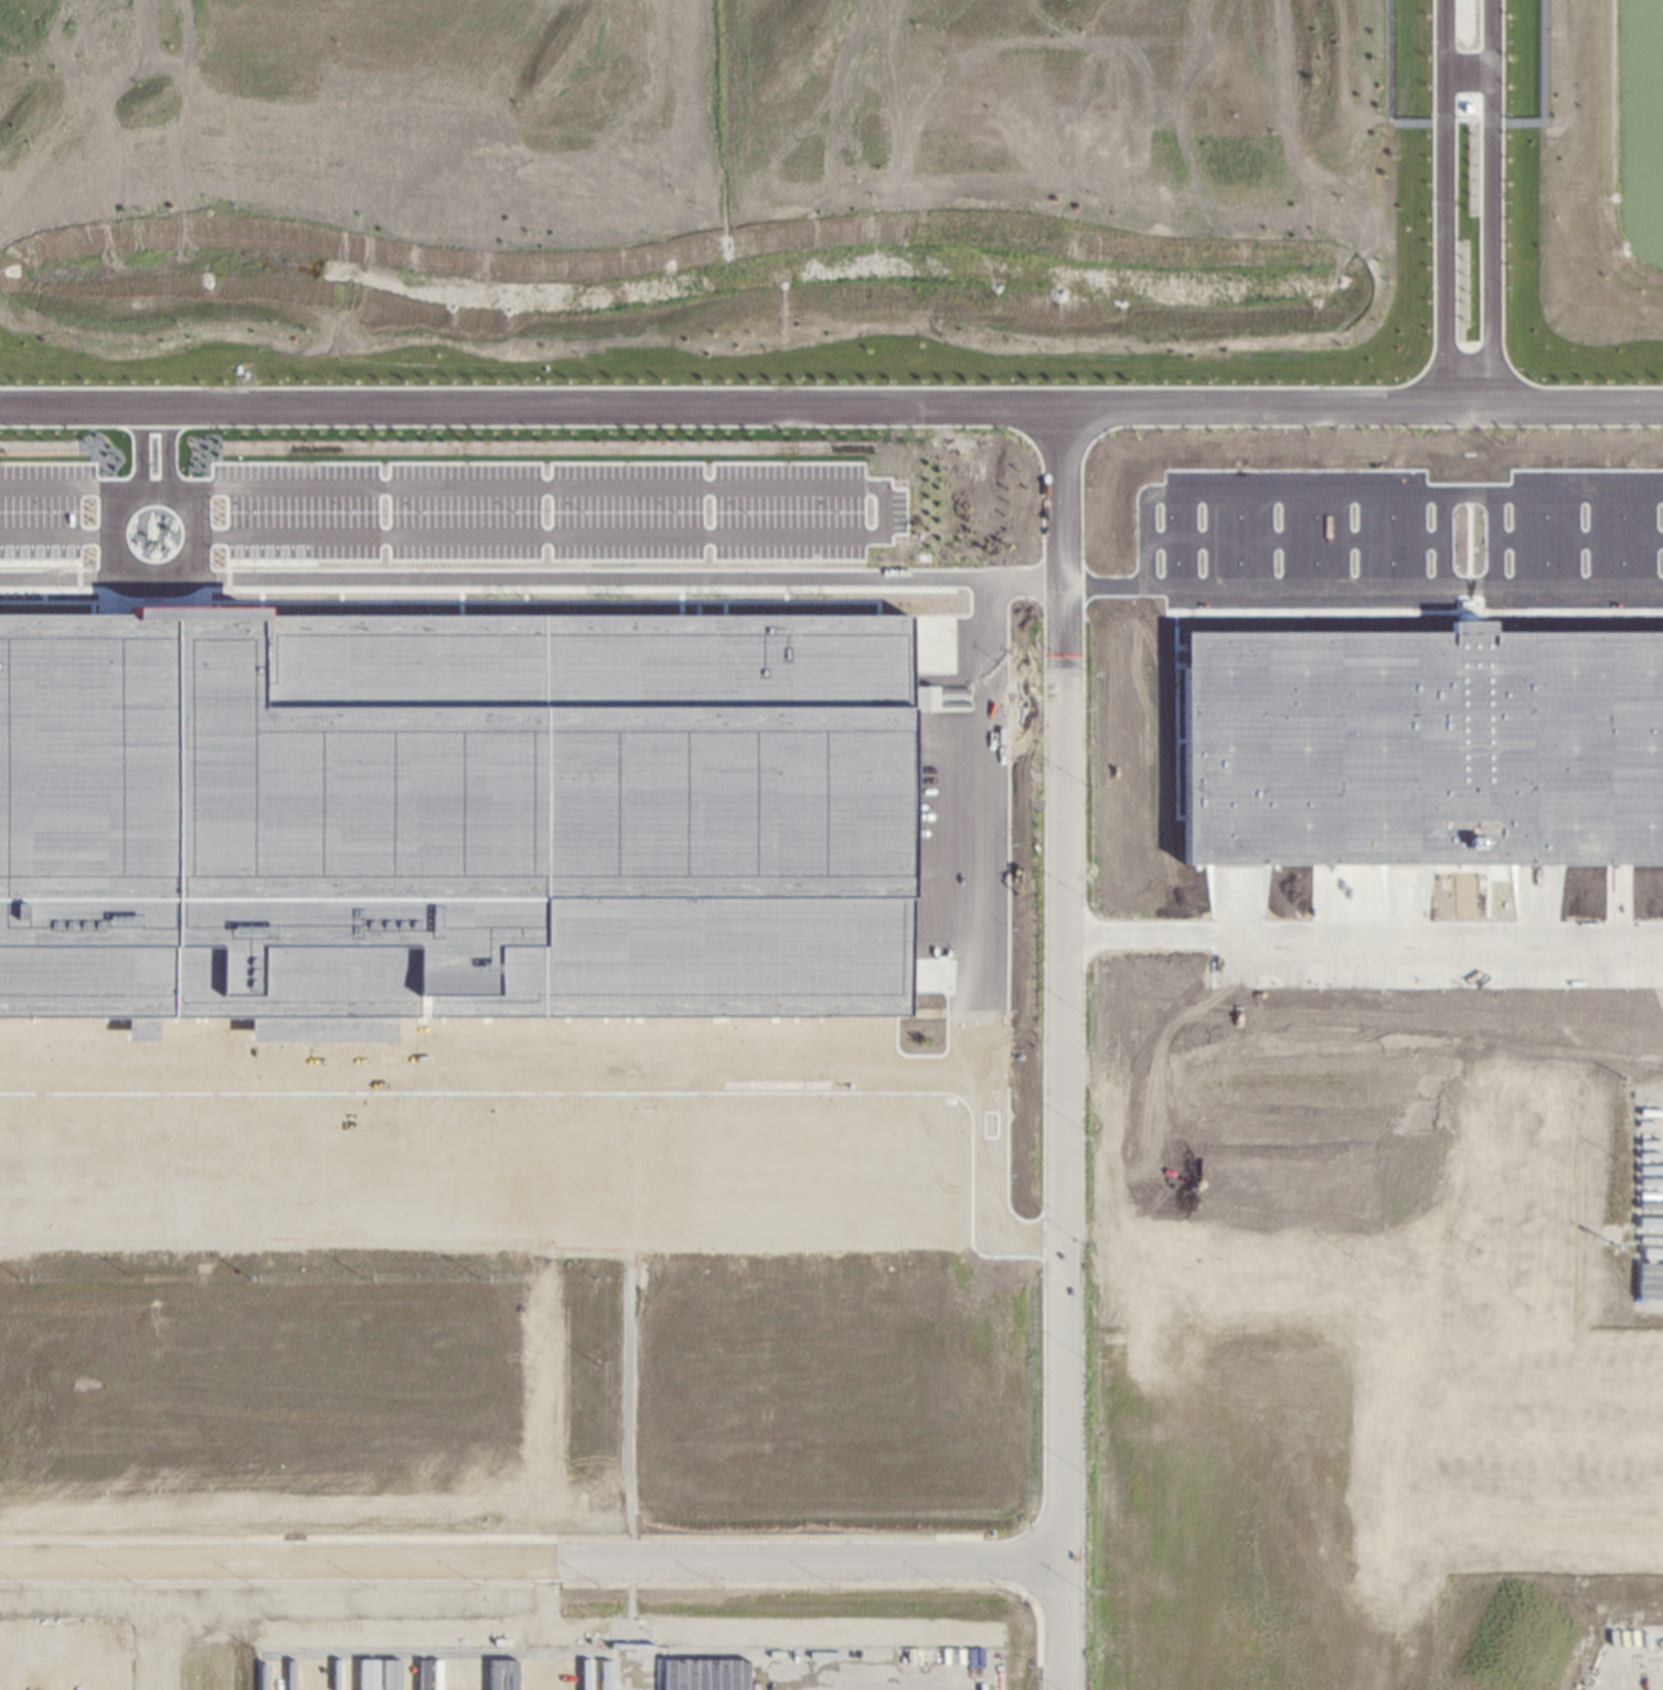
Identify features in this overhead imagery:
road: (1469, 72)
road: (1446, 203)
road: (1492, 203)
road: (831, 407)
road: (142, 452)
road: (169, 453)
road: (67, 486)
road: (1361, 495)
road: (882, 502)
parking lot: (42, 509)
parking lot: (555, 510)
road: (56, 534)
road: (151, 574)
road: (71, 578)
road: (914, 578)
building: (920, 697)
building: (1422, 747)
building: (449, 817)
road: (987, 827)
road: (1362, 932)
road: (1656, 954)
road: (1060, 1048)
road: (604, 1072)
building: (1649, 1279)
road: (530, 1561)
building: (704, 1673)

